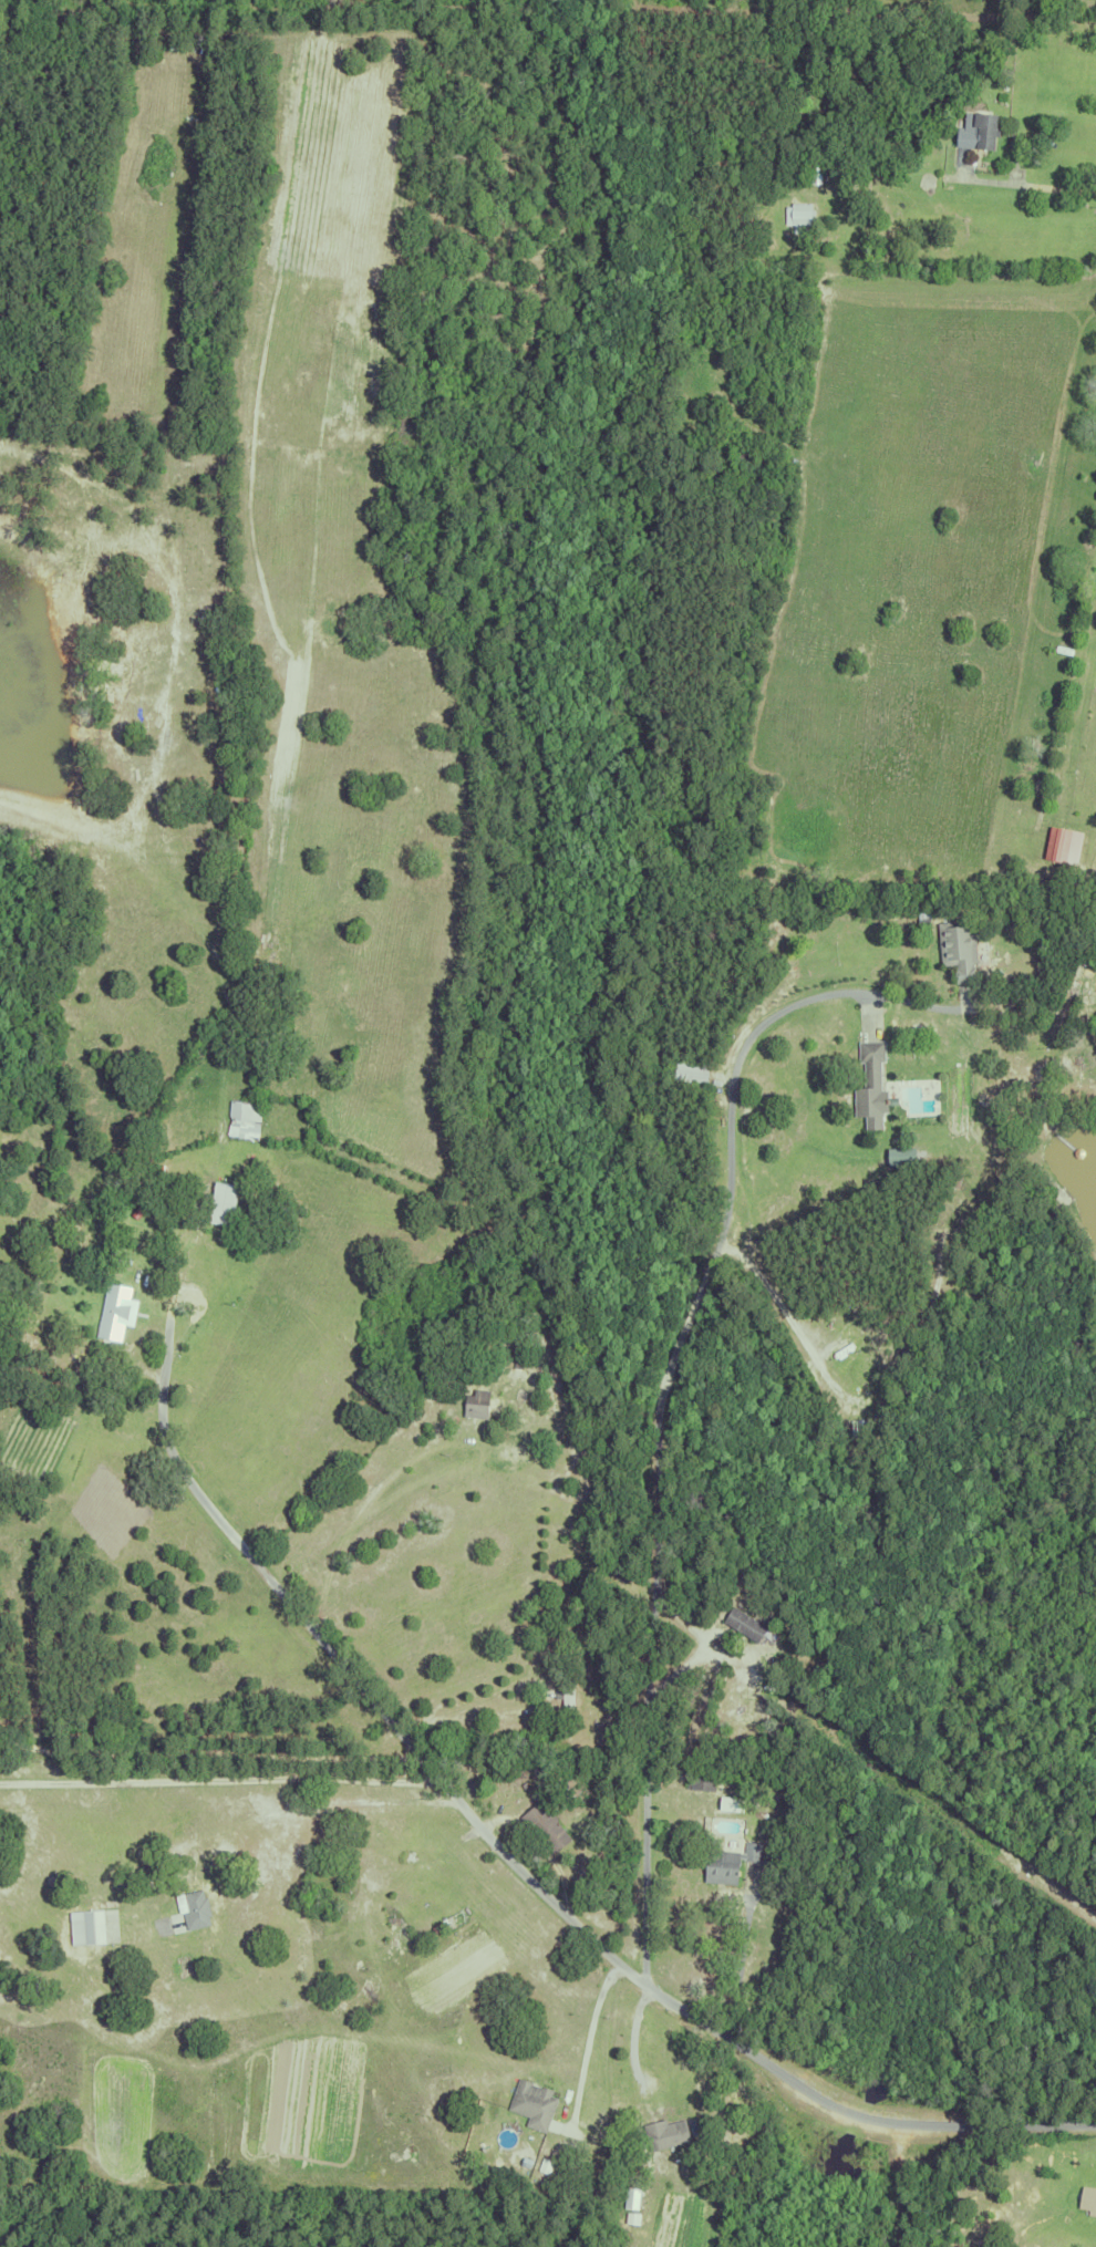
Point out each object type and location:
building: (179, 24)
building: (976, 127)
building: (833, 167)
building: (813, 173)
road: (1024, 180)
building: (796, 214)
building: (741, 452)
building: (1062, 648)
building: (1067, 846)
building: (1058, 883)
building: (1093, 932)
building: (957, 946)
building: (690, 1069)
building: (869, 1084)
building: (724, 1102)
building: (242, 1119)
building: (715, 1119)
building: (265, 1138)
building: (906, 1157)
building: (218, 1201)
building: (228, 1204)
building: (113, 1306)
road: (686, 1323)
road: (790, 1323)
building: (845, 1344)
building: (518, 1359)
building: (477, 1404)
building: (857, 1428)
road: (354, 1510)
building: (746, 1624)
building: (567, 1699)
road: (463, 1716)
road: (209, 1753)
road: (218, 1777)
building: (696, 1782)
building: (569, 1788)
road: (330, 1800)
building: (735, 1804)
building: (540, 1829)
building: (728, 1863)
road: (514, 1864)
building: (195, 1909)
building: (383, 1924)
building: (91, 1927)
road: (738, 1966)
road: (587, 2033)
road: (633, 2036)
building: (716, 2077)
building: (537, 2104)
river: (855, 2119)
building: (571, 2121)
building: (663, 2130)
building: (1086, 2196)

